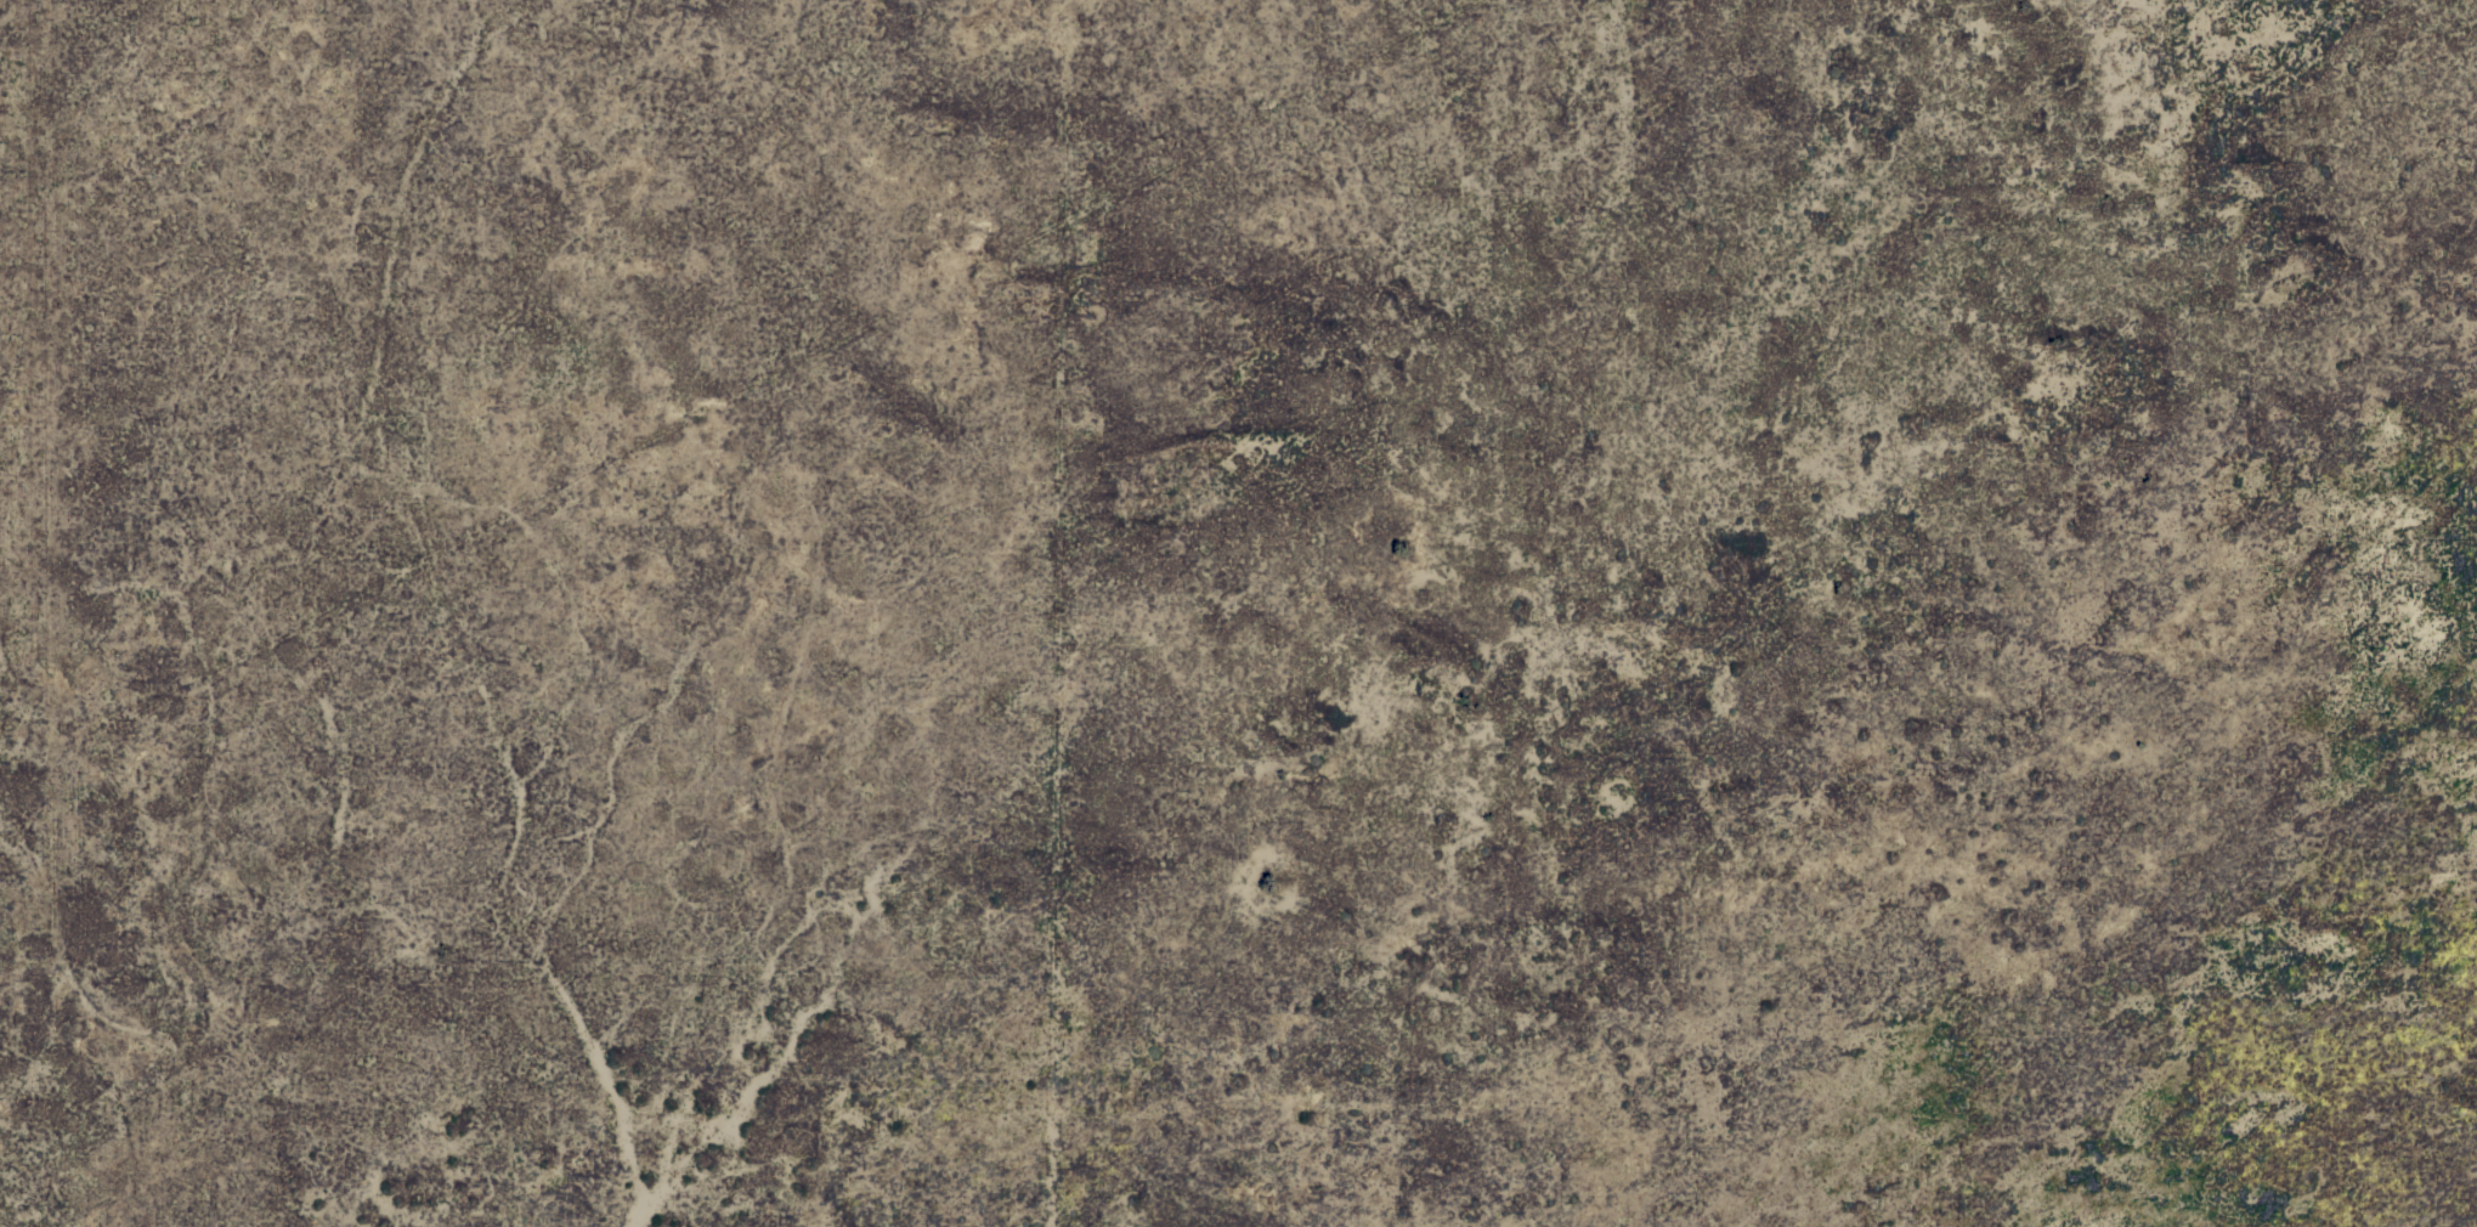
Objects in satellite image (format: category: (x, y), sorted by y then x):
road: (250, 256)
road: (123, 595)
road: (522, 775)
road: (217, 988)
road: (1019, 999)
road: (638, 1000)

